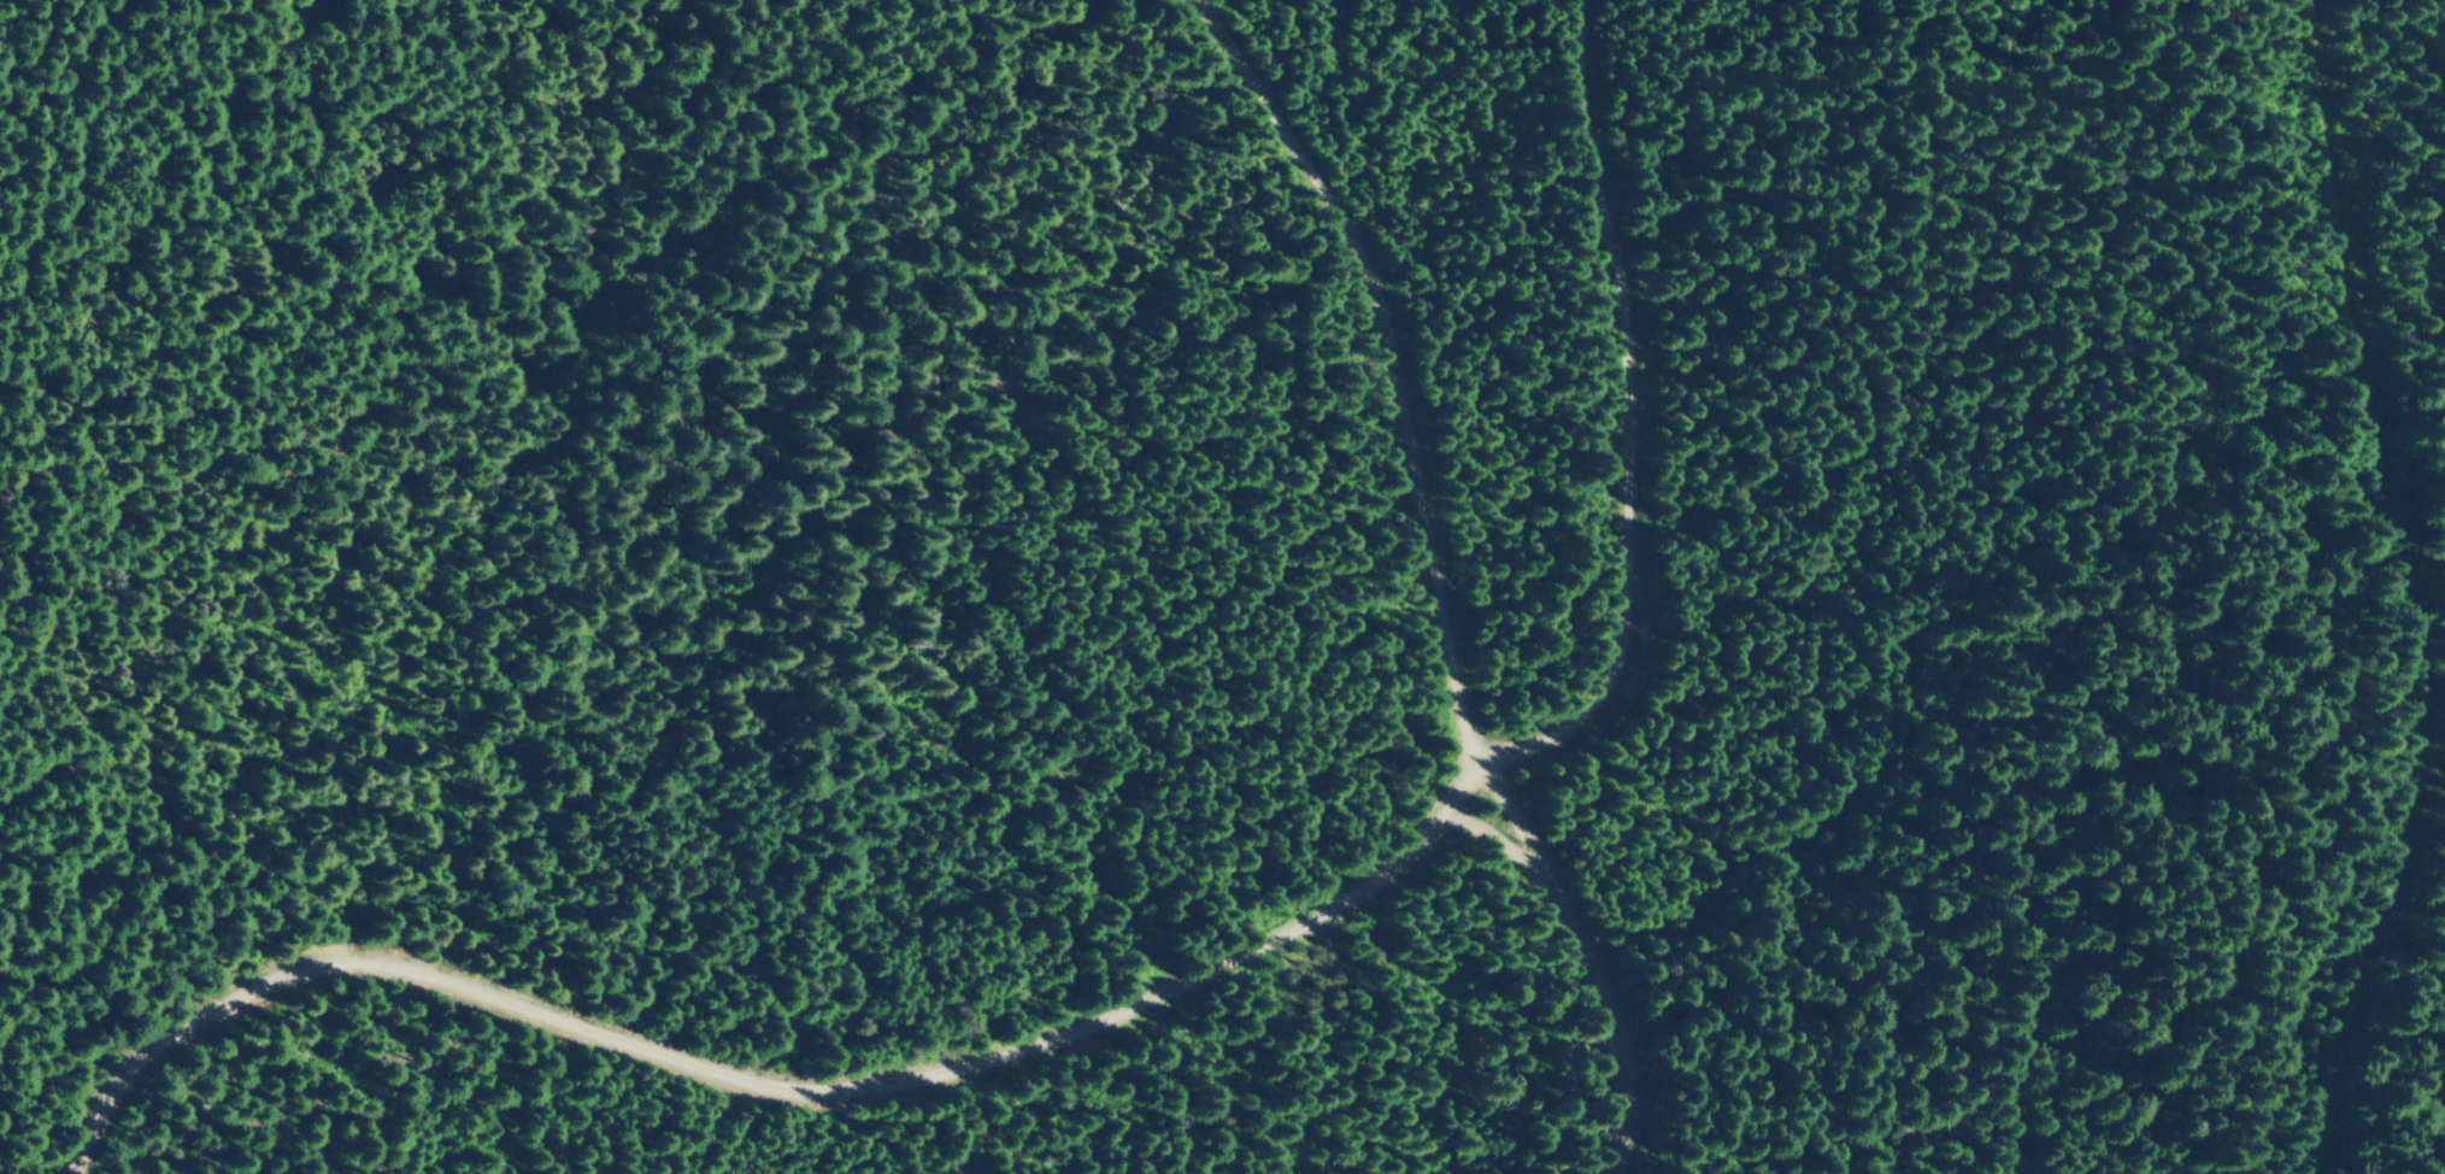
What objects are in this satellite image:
road: (1391, 358)
road: (1486, 838)
road: (1580, 958)
road: (1168, 984)

